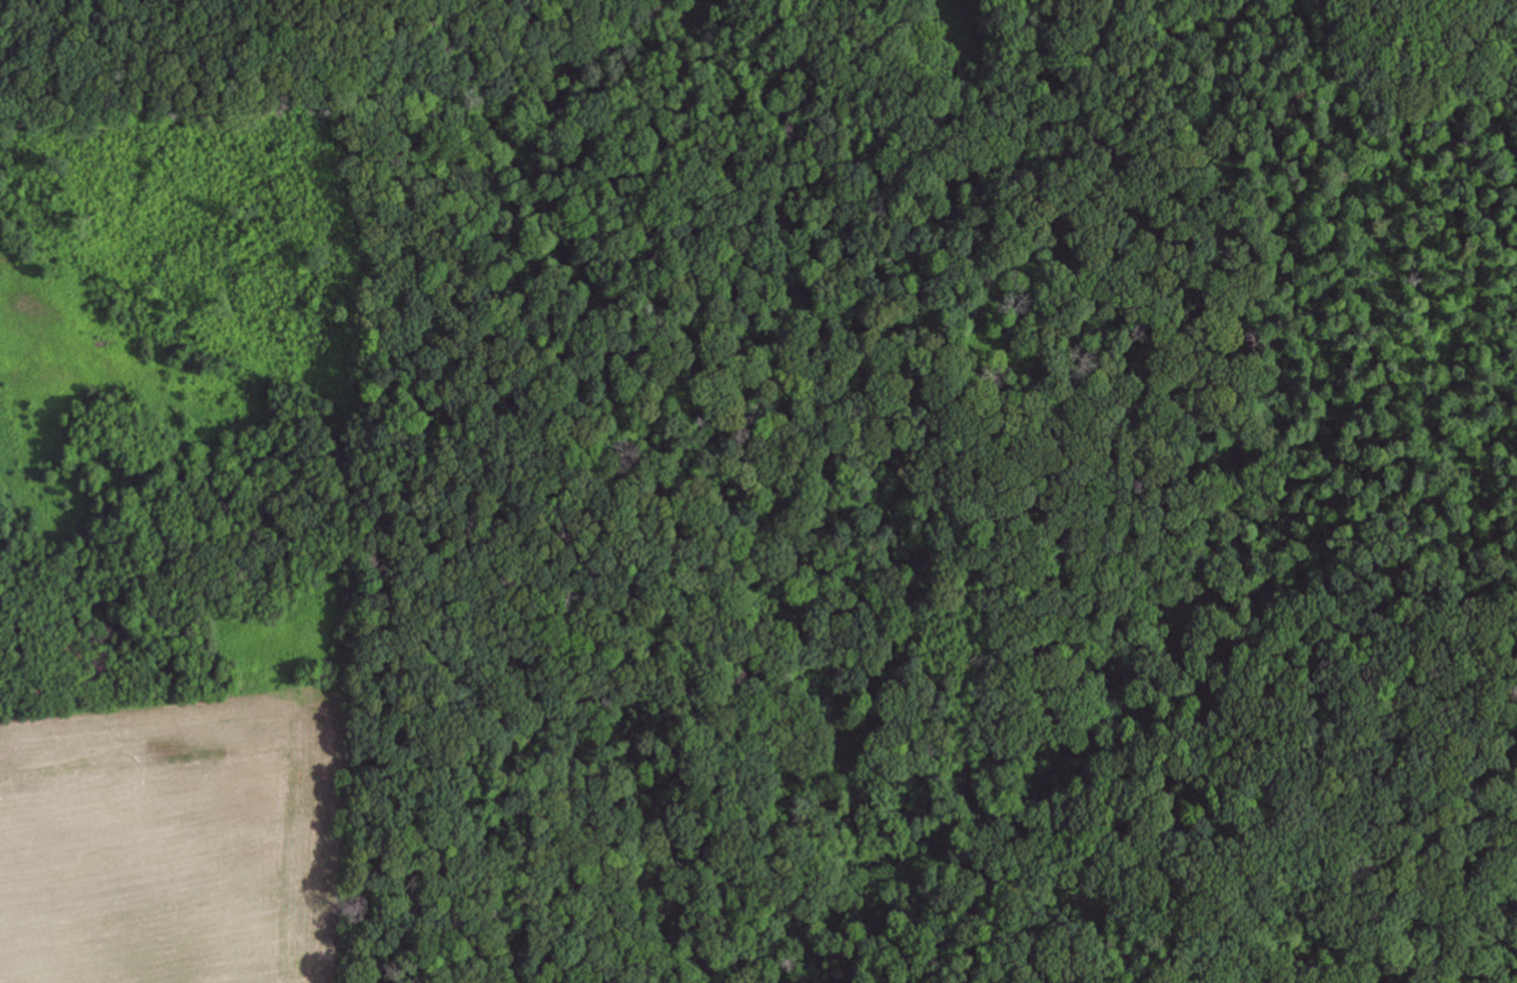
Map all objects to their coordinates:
crop: (188, 839)

